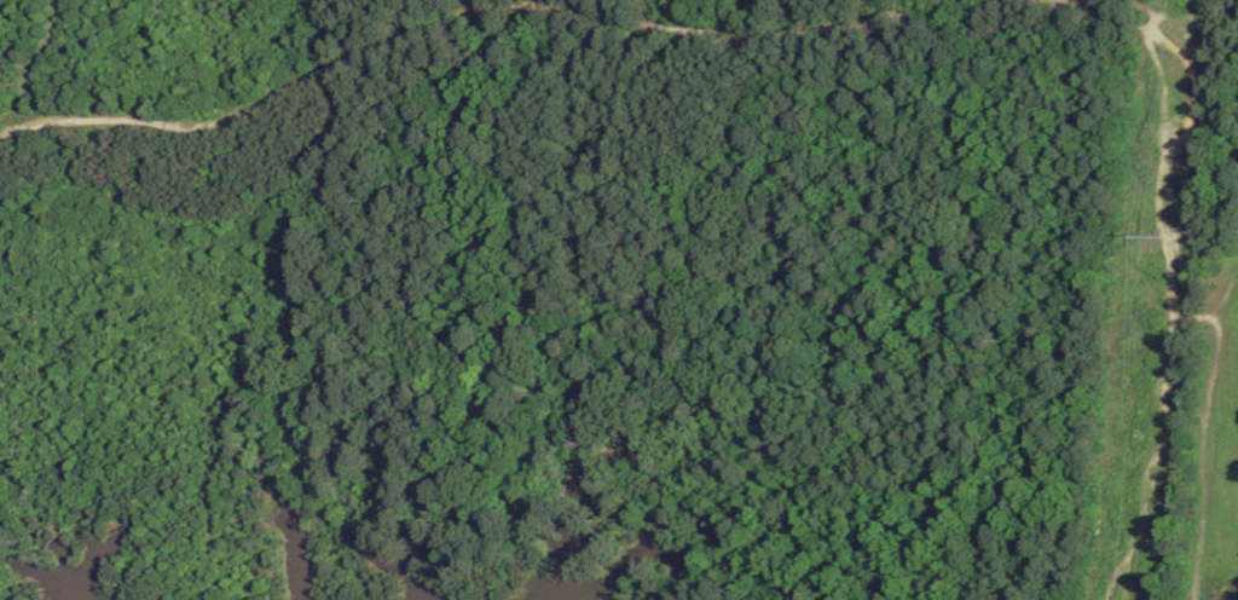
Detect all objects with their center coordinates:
road: (467, 12)
road: (1144, 15)
road: (1172, 288)

